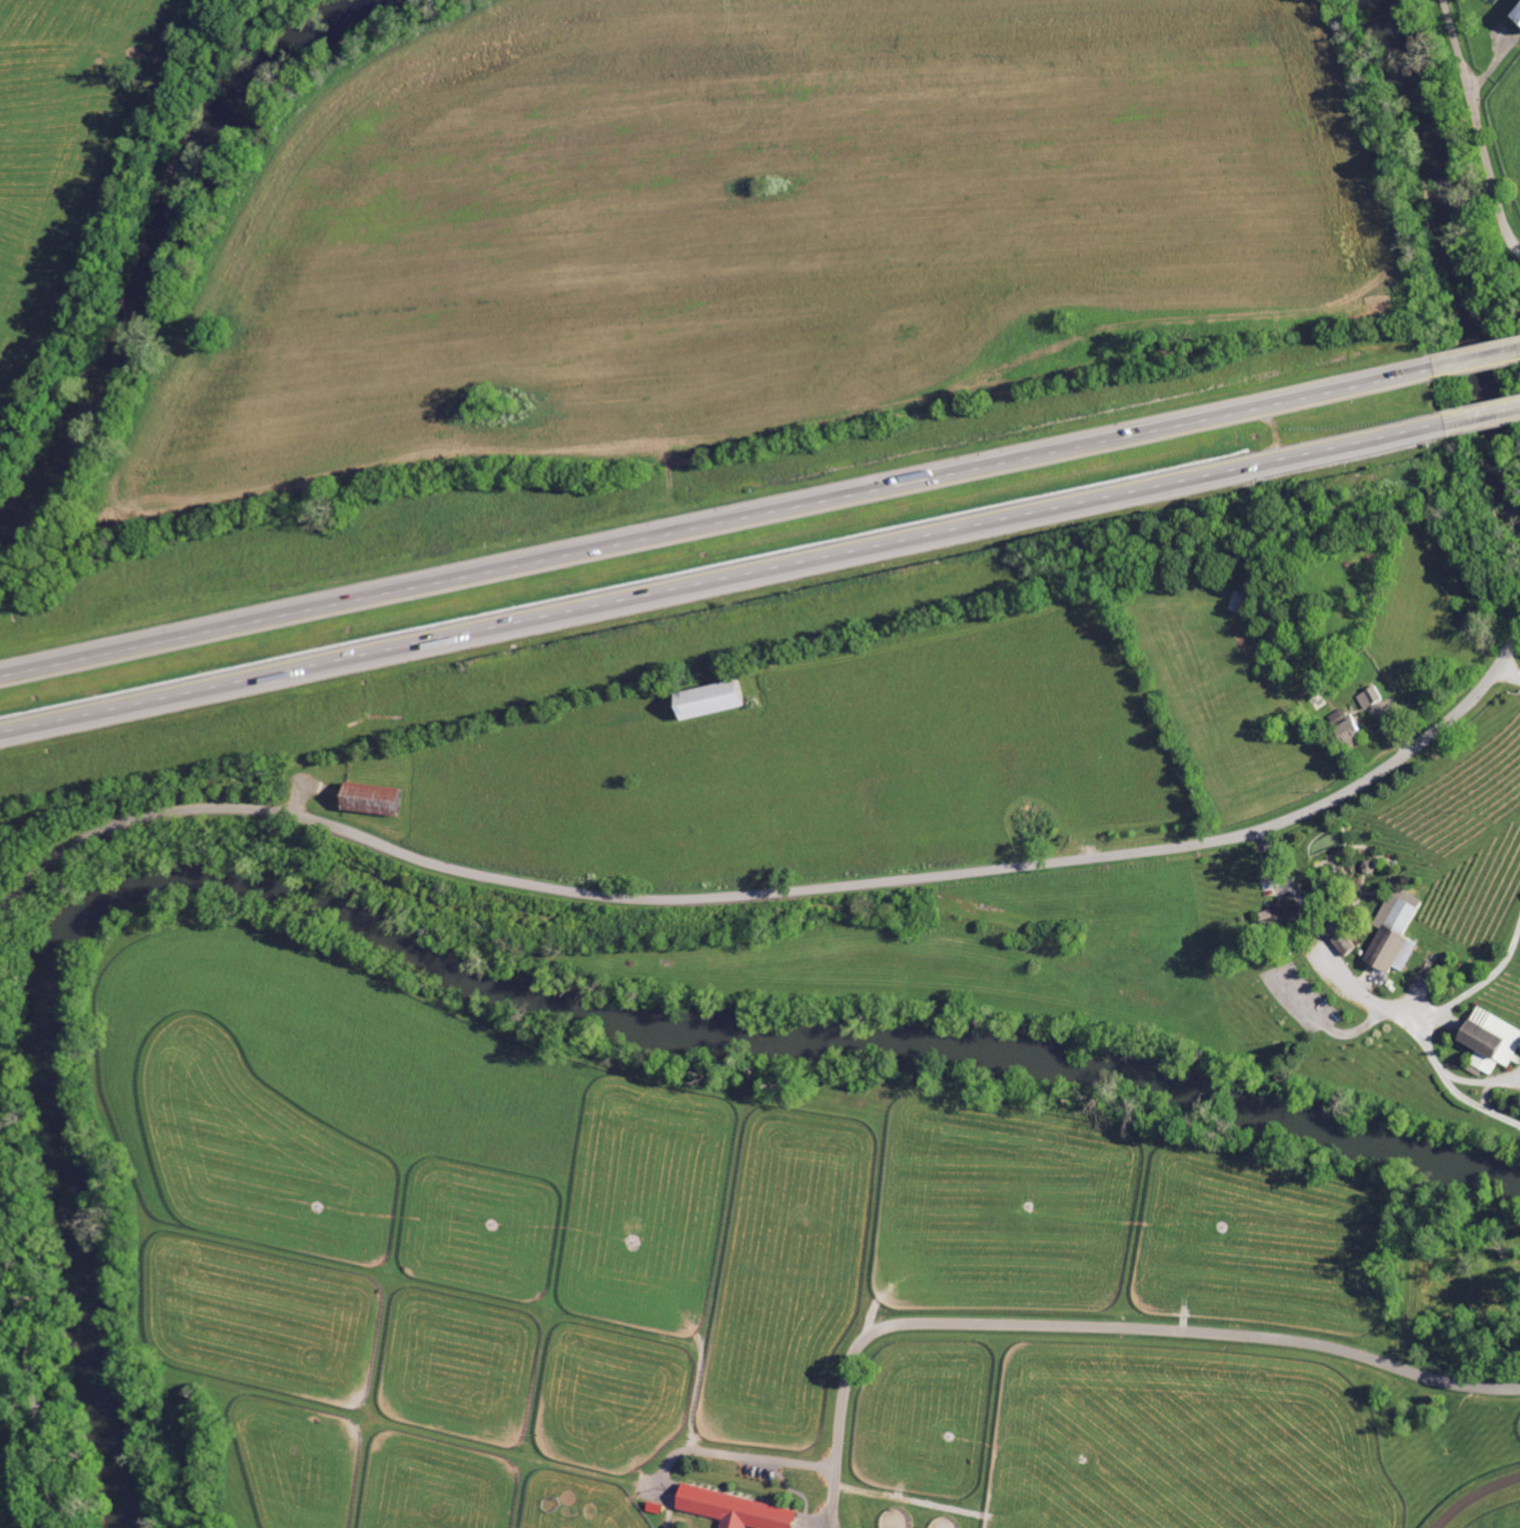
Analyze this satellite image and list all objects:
building: (1514, 14)
road: (1454, 40)
road: (1489, 167)
river: (1460, 235)
river: (163, 251)
road: (1480, 360)
road: (1487, 414)
road: (720, 518)
road: (728, 580)
road: (1510, 668)
building: (1367, 696)
building: (702, 698)
building: (1341, 728)
building: (367, 798)
road: (774, 892)
building: (1277, 913)
building: (1391, 933)
building: (1338, 938)
road: (1479, 984)
river: (497, 987)
road: (1371, 999)
building: (1488, 1038)
road: (1095, 1328)
road: (31, 1365)
building: (732, 1509)
road: (817, 1518)

